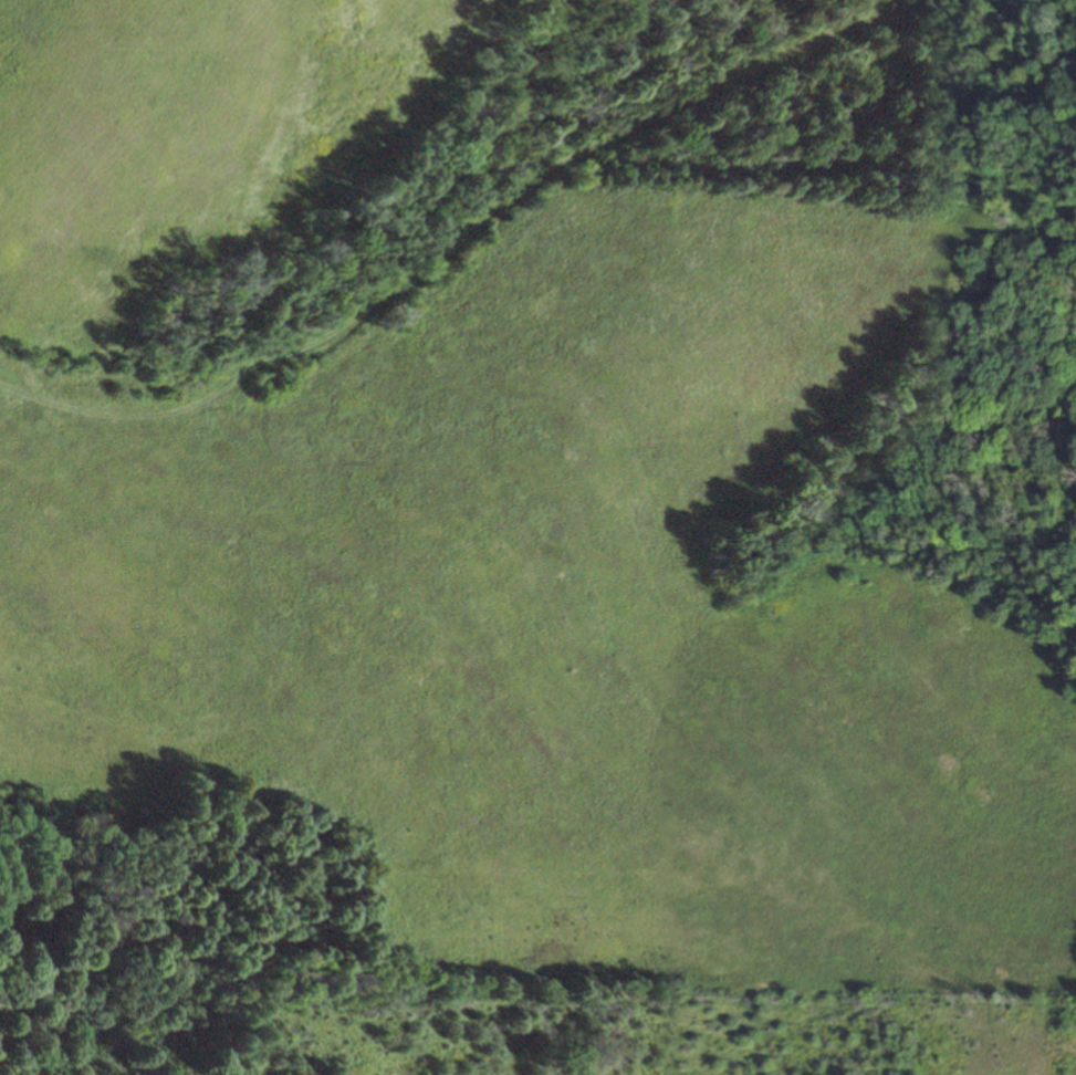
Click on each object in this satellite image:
road: (481, 219)

